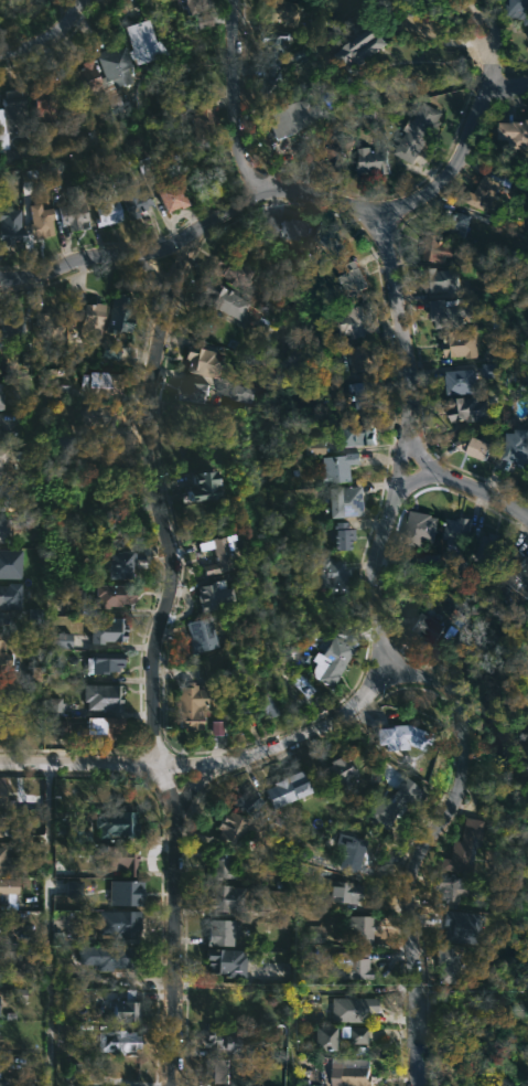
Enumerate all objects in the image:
building: (202, 4)
building: (513, 10)
building: (284, 12)
road: (49, 36)
building: (150, 41)
building: (373, 46)
building: (272, 55)
road: (509, 72)
building: (80, 73)
road: (239, 96)
building: (45, 104)
building: (206, 115)
building: (15, 116)
building: (287, 118)
building: (419, 128)
building: (510, 128)
building: (336, 148)
building: (7, 150)
building: (375, 161)
road: (434, 190)
building: (487, 190)
building: (173, 196)
building: (107, 204)
building: (136, 204)
building: (74, 210)
building: (40, 221)
building: (456, 222)
building: (10, 227)
building: (282, 227)
building: (338, 242)
building: (438, 248)
road: (147, 254)
building: (234, 273)
building: (355, 279)
building: (441, 281)
building: (226, 301)
building: (444, 313)
building: (119, 318)
building: (357, 320)
building: (90, 321)
building: (50, 322)
building: (12, 327)
building: (456, 344)
building: (110, 349)
building: (493, 356)
building: (362, 358)
building: (205, 361)
building: (489, 371)
building: (457, 381)
building: (96, 383)
building: (194, 391)
building: (1, 393)
building: (240, 394)
building: (367, 394)
building: (466, 407)
building: (96, 416)
building: (359, 432)
building: (3, 437)
road: (406, 440)
building: (513, 445)
building: (69, 446)
building: (471, 447)
building: (314, 448)
building: (6, 454)
building: (337, 468)
road: (468, 481)
building: (209, 486)
building: (7, 493)
building: (343, 500)
road: (154, 505)
building: (0, 523)
building: (423, 528)
building: (457, 529)
building: (344, 533)
building: (486, 547)
building: (219, 555)
building: (119, 562)
building: (10, 564)
building: (331, 567)
building: (514, 572)
building: (69, 593)
building: (218, 594)
building: (10, 595)
building: (116, 595)
building: (429, 627)
building: (108, 629)
building: (203, 632)
building: (61, 641)
building: (9, 656)
building: (336, 661)
building: (103, 662)
building: (302, 685)
building: (103, 696)
building: (265, 704)
building: (52, 705)
building: (190, 705)
building: (3, 727)
building: (100, 727)
building: (60, 728)
building: (216, 728)
building: (408, 733)
road: (208, 769)
building: (340, 771)
building: (291, 789)
building: (2, 791)
building: (248, 802)
building: (395, 805)
building: (117, 824)
building: (237, 828)
building: (0, 829)
road: (427, 841)
building: (466, 842)
building: (351, 851)
building: (119, 859)
building: (11, 863)
building: (222, 865)
building: (10, 885)
building: (451, 887)
building: (73, 888)
building: (125, 893)
building: (345, 893)
building: (226, 897)
building: (116, 923)
road: (46, 925)
road: (174, 927)
building: (457, 927)
building: (359, 928)
building: (225, 930)
building: (2, 936)
building: (106, 957)
building: (227, 962)
building: (448, 965)
building: (356, 966)
building: (11, 968)
building: (353, 1010)
building: (126, 1011)
building: (356, 1035)
building: (0, 1036)
building: (325, 1039)
building: (224, 1040)
building: (117, 1042)
building: (120, 1071)
building: (217, 1072)
building: (357, 1075)
building: (18, 1080)

